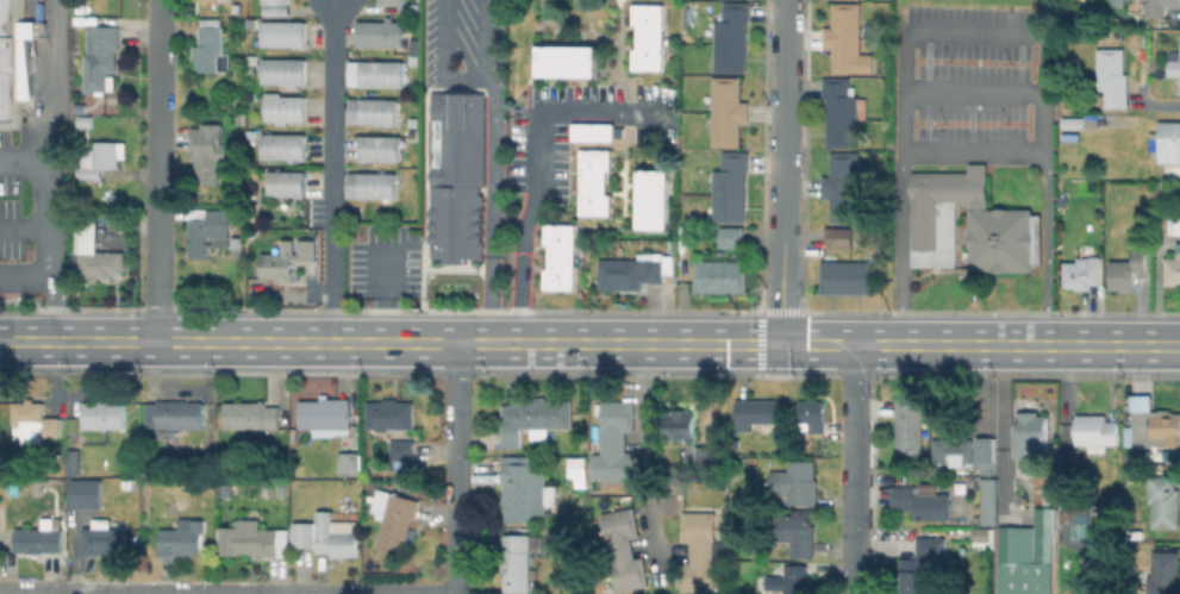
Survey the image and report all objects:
building: (208, 0)
building: (392, 2)
building: (277, 7)
building: (1159, 7)
road: (972, 33)
building: (285, 35)
building: (381, 36)
building: (644, 37)
building: (733, 37)
building: (845, 37)
road: (481, 38)
parking lot: (461, 43)
building: (210, 44)
building: (101, 56)
road: (444, 56)
building: (14, 60)
building: (564, 61)
building: (286, 71)
building: (375, 73)
building: (1174, 74)
building: (1113, 76)
parking lot: (973, 85)
road: (973, 89)
road: (901, 90)
road: (1044, 90)
road: (160, 101)
building: (286, 108)
building: (373, 111)
building: (729, 112)
building: (842, 113)
building: (1073, 124)
building: (589, 131)
building: (1169, 142)
building: (285, 146)
building: (380, 148)
road: (973, 150)
building: (207, 151)
road: (25, 155)
road: (50, 158)
building: (102, 160)
road: (537, 162)
road: (331, 171)
road: (782, 171)
building: (456, 176)
building: (592, 182)
building: (287, 185)
building: (372, 186)
building: (844, 186)
building: (731, 187)
building: (1163, 189)
building: (650, 199)
road: (489, 207)
road: (25, 224)
building: (208, 231)
building: (728, 236)
building: (835, 236)
building: (997, 237)
building: (1178, 245)
road: (900, 248)
road: (1043, 248)
building: (557, 257)
building: (288, 260)
building: (102, 264)
parking lot: (381, 264)
building: (1128, 270)
road: (157, 273)
building: (631, 273)
building: (1082, 274)
building: (704, 276)
building: (731, 276)
building: (831, 276)
building: (857, 276)
road: (381, 295)
road: (589, 344)
traffic signals: (780, 344)
building: (758, 412)
building: (107, 414)
building: (176, 414)
building: (251, 414)
building: (326, 414)
building: (391, 414)
building: (812, 415)
building: (37, 418)
building: (536, 418)
road: (1004, 418)
building: (1153, 424)
building: (680, 425)
building: (911, 425)
building: (1098, 430)
building: (1032, 432)
building: (617, 443)
building: (404, 449)
road: (853, 450)
building: (955, 451)
building: (987, 451)
road: (644, 452)
building: (703, 456)
building: (71, 462)
building: (351, 462)
road: (456, 469)
building: (579, 470)
building: (798, 482)
building: (282, 492)
building: (526, 492)
building: (87, 493)
building: (1165, 501)
building: (922, 502)
building: (1014, 506)
building: (395, 520)
building: (1104, 520)
building: (1078, 523)
building: (798, 532)
building: (327, 534)
building: (43, 537)
building: (982, 537)
building: (105, 538)
building: (182, 538)
building: (250, 540)
building: (625, 549)
building: (700, 551)
building: (1029, 558)
building: (520, 559)
building: (923, 564)
building: (1165, 573)
road: (850, 575)
building: (791, 579)

